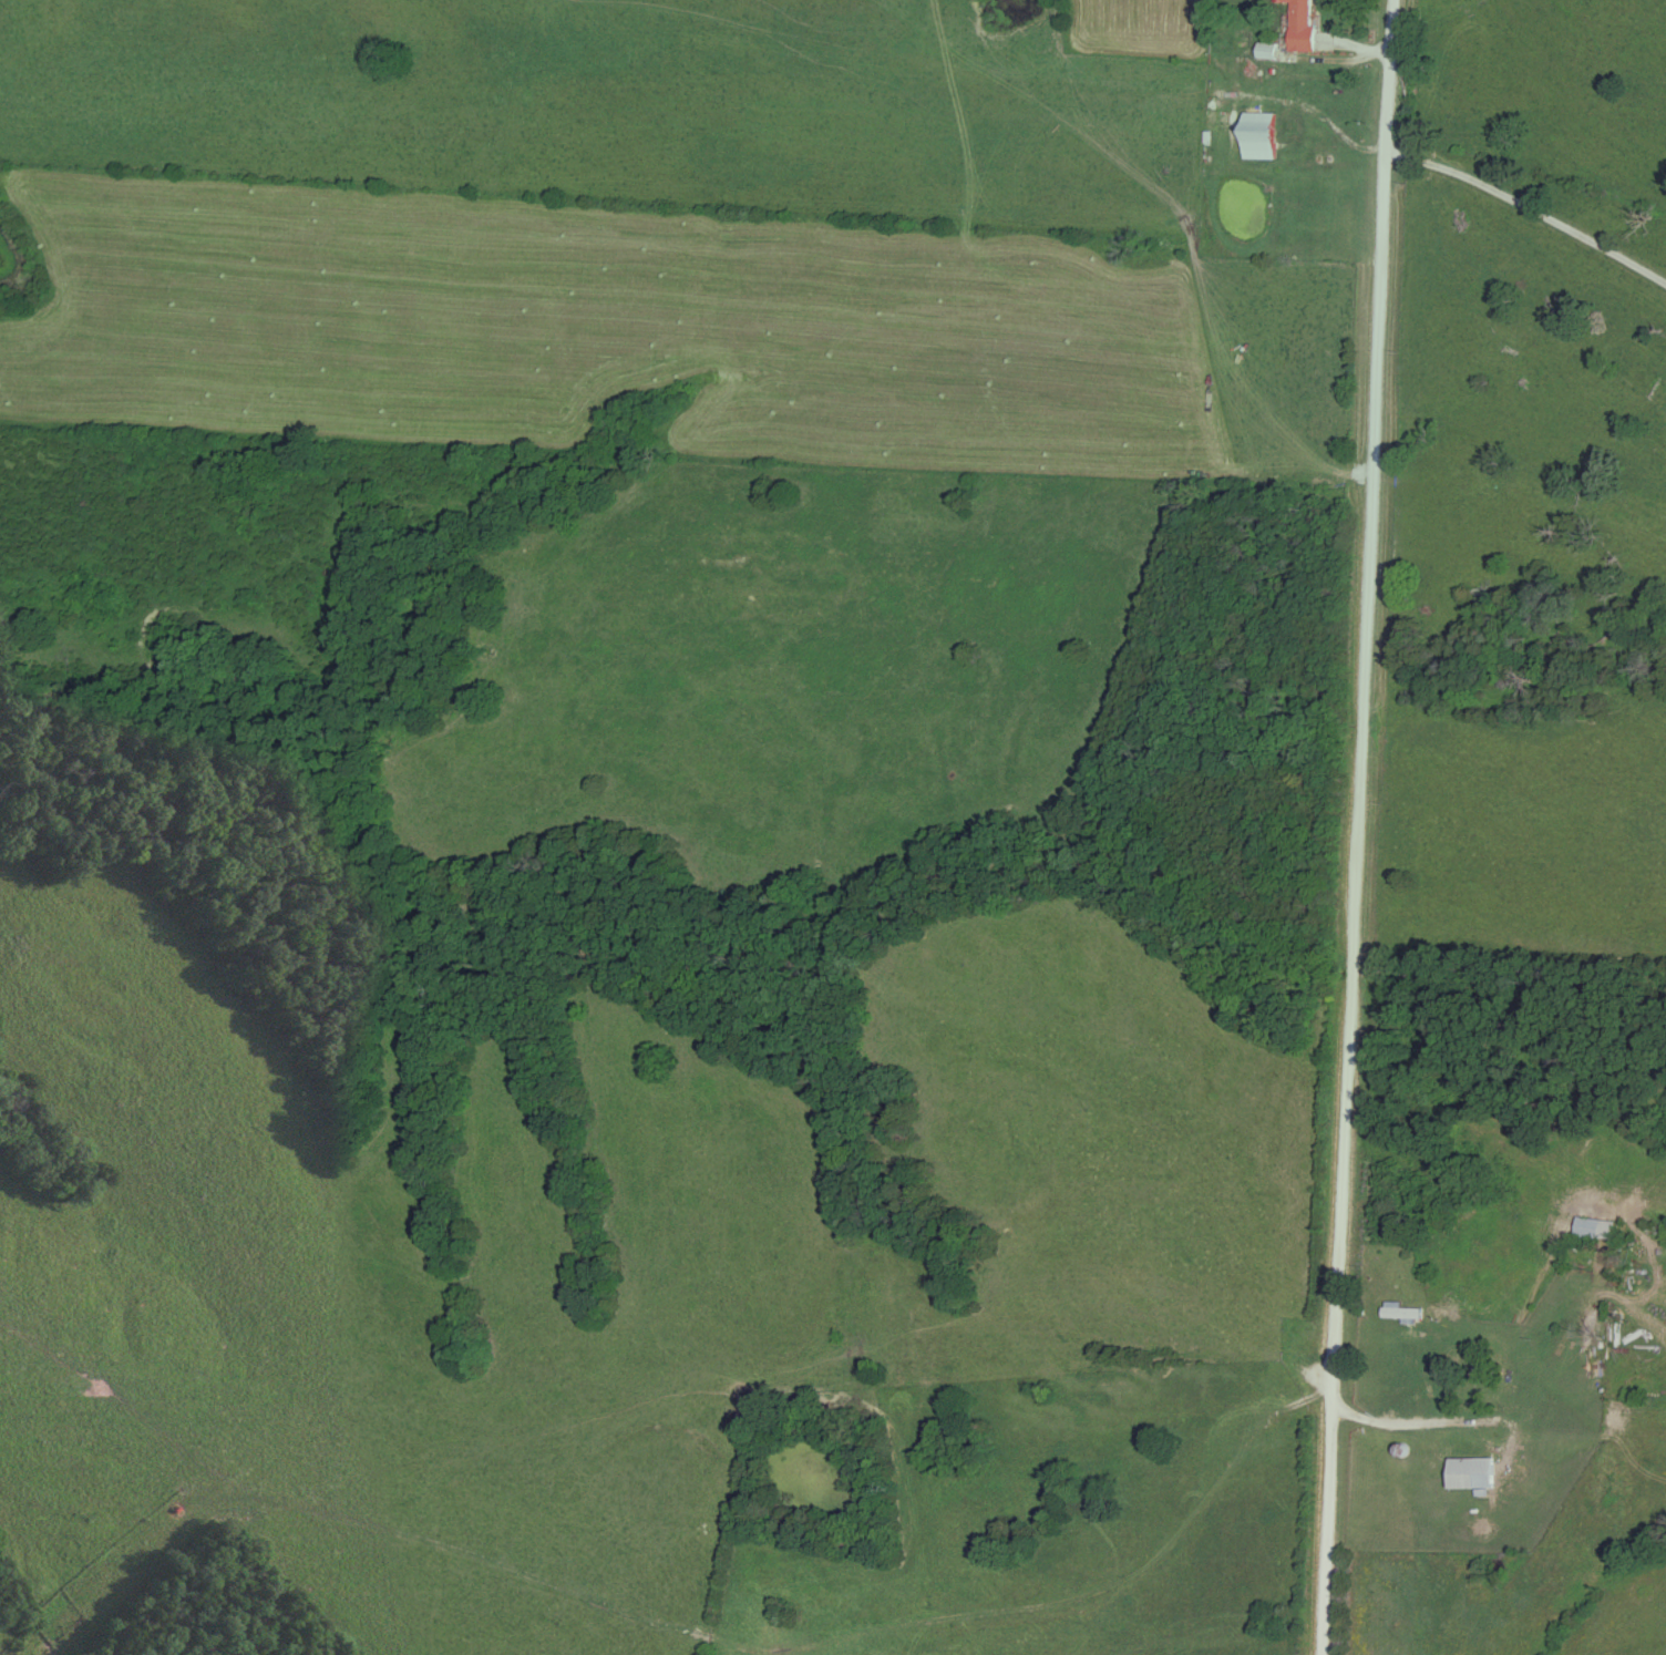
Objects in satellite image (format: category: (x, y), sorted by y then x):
building: (1302, 24)
building: (1267, 51)
building: (1257, 135)
road: (1529, 208)
road: (1357, 826)
building: (1593, 1229)
building: (1434, 1330)
road: (1460, 1423)
building: (1469, 1473)

